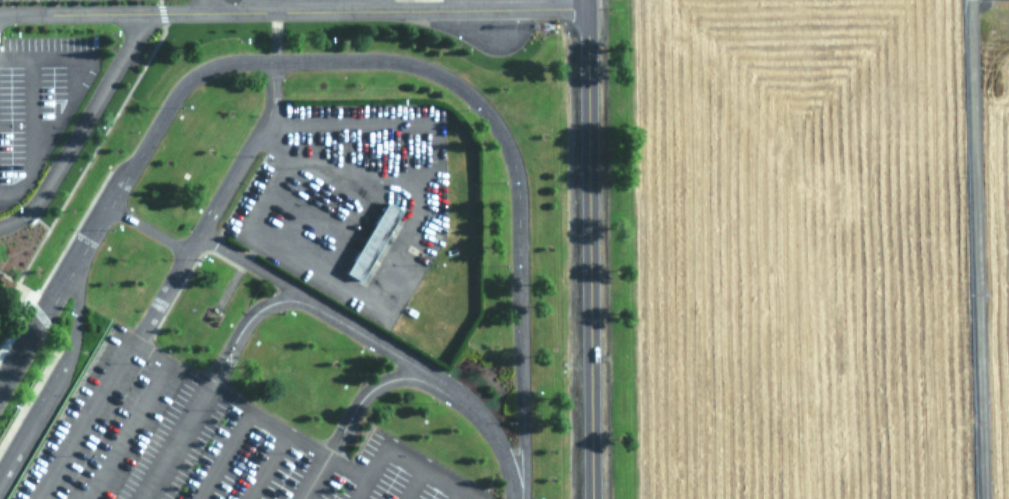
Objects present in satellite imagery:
road: (202, 7)
road: (376, 15)
road: (83, 17)
road: (357, 61)
parking lot: (37, 104)
road: (67, 106)
road: (30, 116)
road: (84, 123)
parking lot: (349, 204)
road: (213, 205)
road: (147, 229)
building: (374, 240)
crop: (815, 248)
airport: (504, 249)
road: (589, 249)
road: (978, 249)
road: (255, 267)
road: (374, 341)
road: (57, 378)
road: (378, 381)
road: (134, 413)
road: (83, 421)
road: (286, 432)
parking lot: (197, 440)
road: (175, 442)
road: (404, 453)
road: (223, 454)
road: (267, 466)
road: (313, 477)
road: (410, 481)
road: (454, 492)

